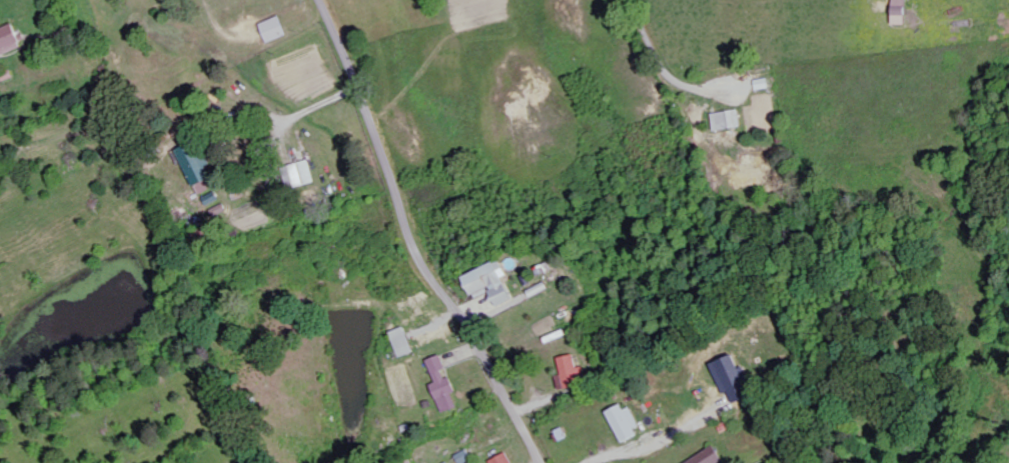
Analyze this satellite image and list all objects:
building: (904, 12)
building: (276, 29)
building: (10, 39)
road: (658, 55)
building: (729, 120)
building: (197, 163)
building: (302, 175)
building: (208, 186)
road: (413, 239)
building: (494, 282)
building: (439, 334)
building: (406, 342)
building: (572, 373)
building: (735, 378)
building: (445, 385)
building: (628, 423)
building: (466, 457)
building: (711, 457)
building: (504, 459)

